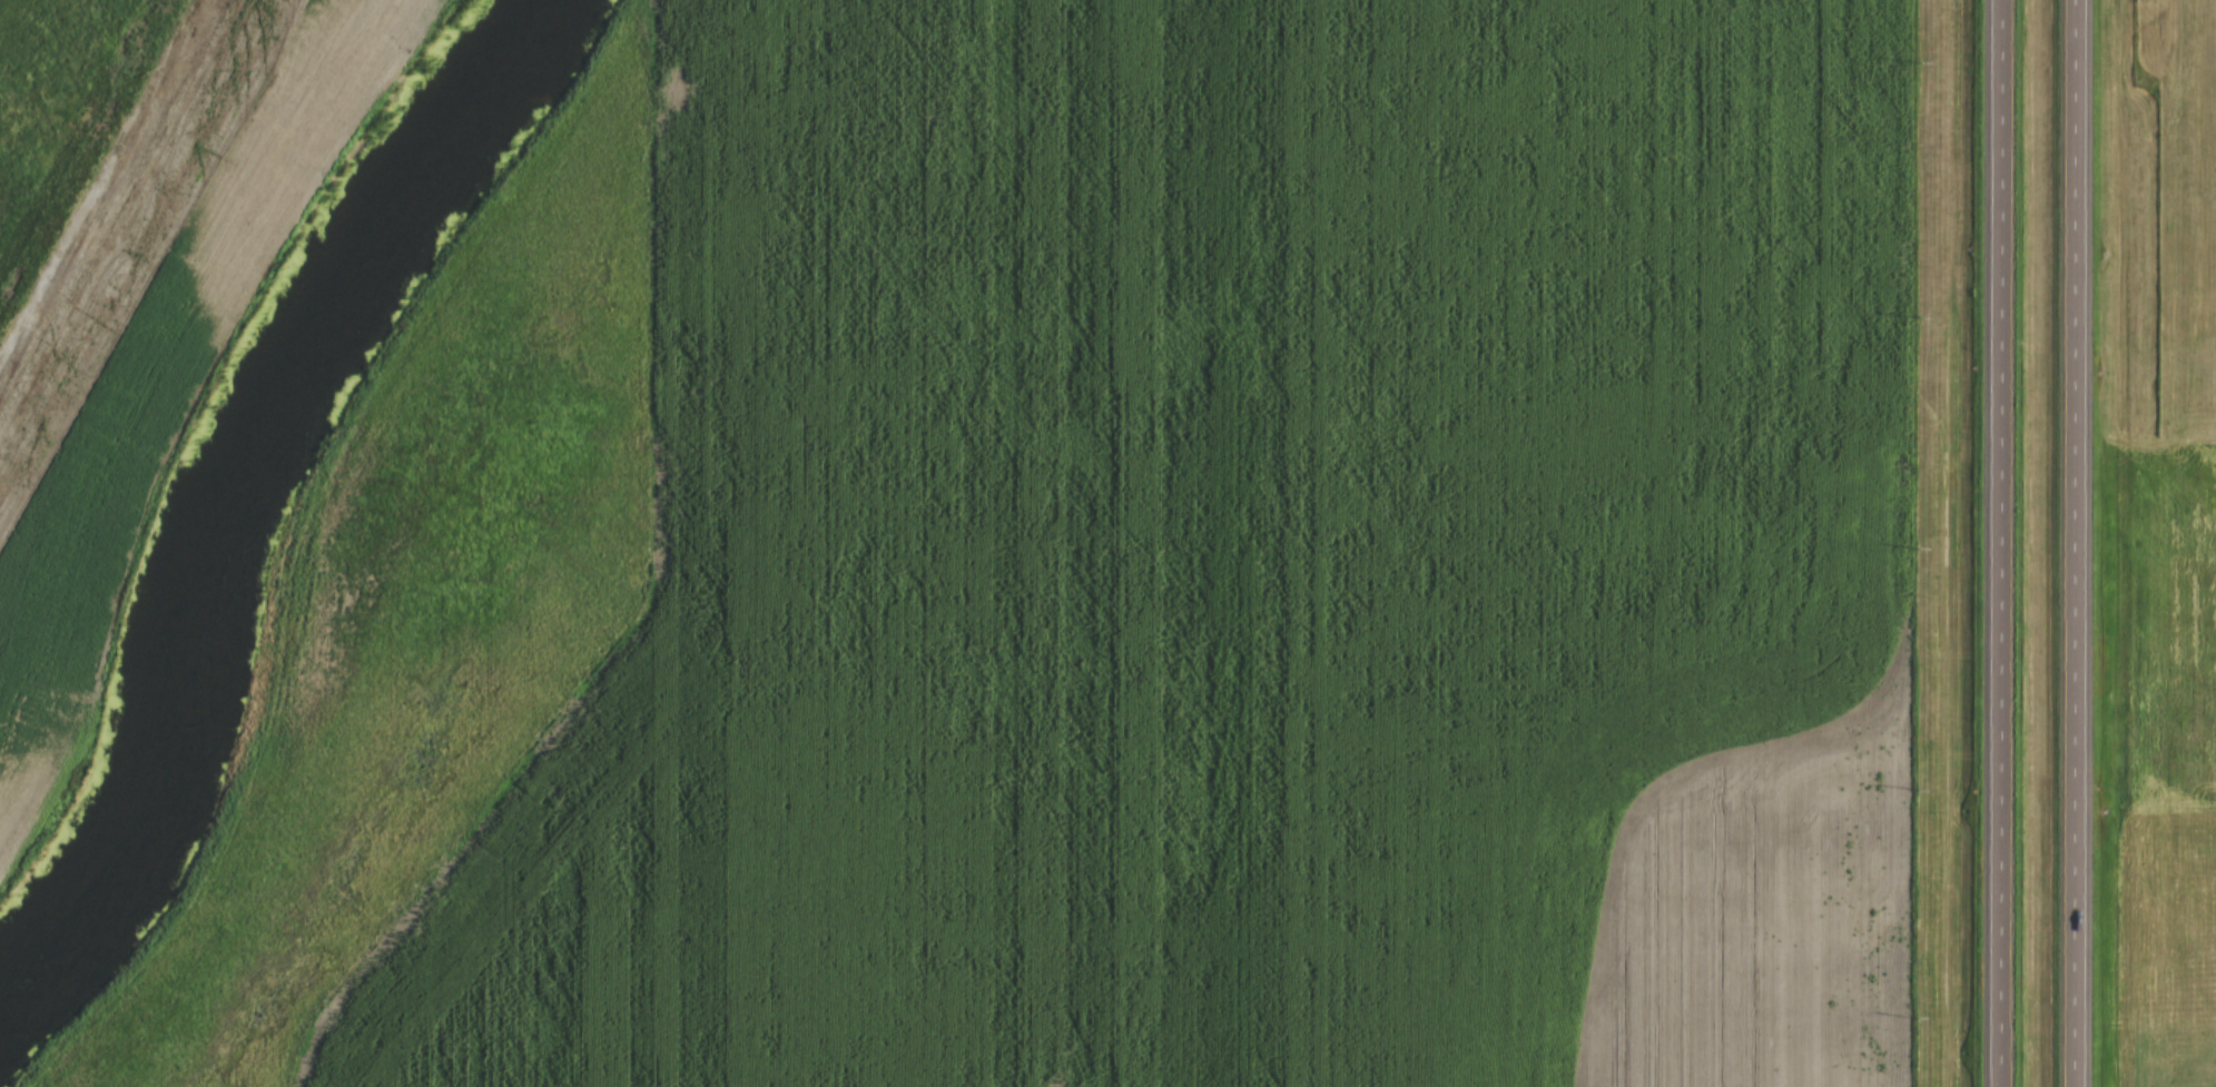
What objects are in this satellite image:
river: (236, 477)
road: (1998, 543)
road: (2072, 543)

